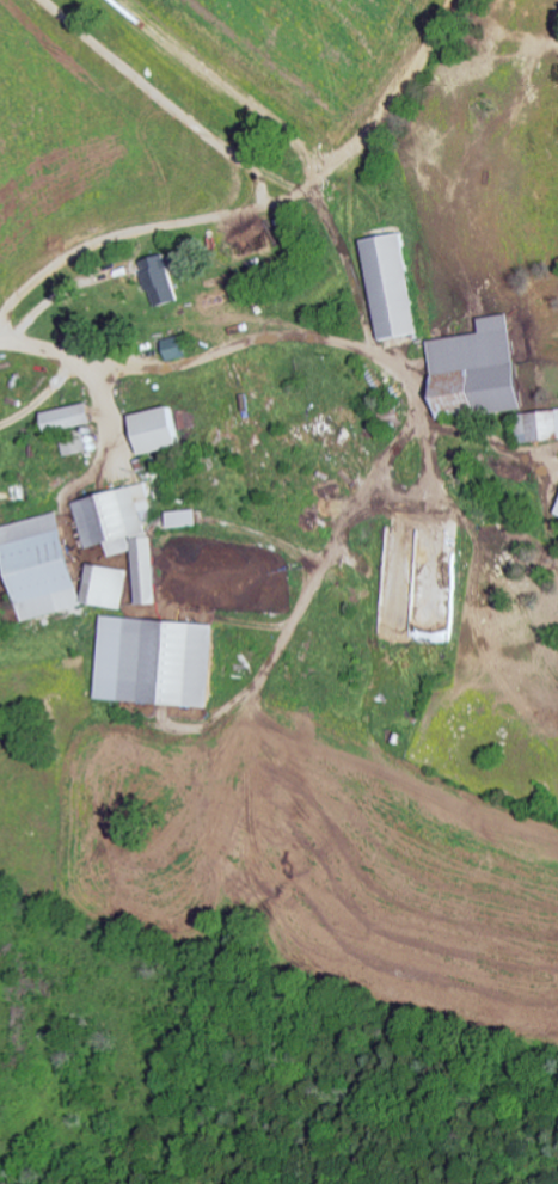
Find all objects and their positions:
building: (164, 280)
building: (393, 284)
road: (190, 339)
building: (177, 346)
building: (479, 369)
building: (70, 416)
building: (538, 424)
building: (159, 428)
building: (75, 442)
building: (557, 513)
building: (186, 516)
building: (125, 530)
building: (44, 565)
building: (109, 584)
building: (157, 660)

